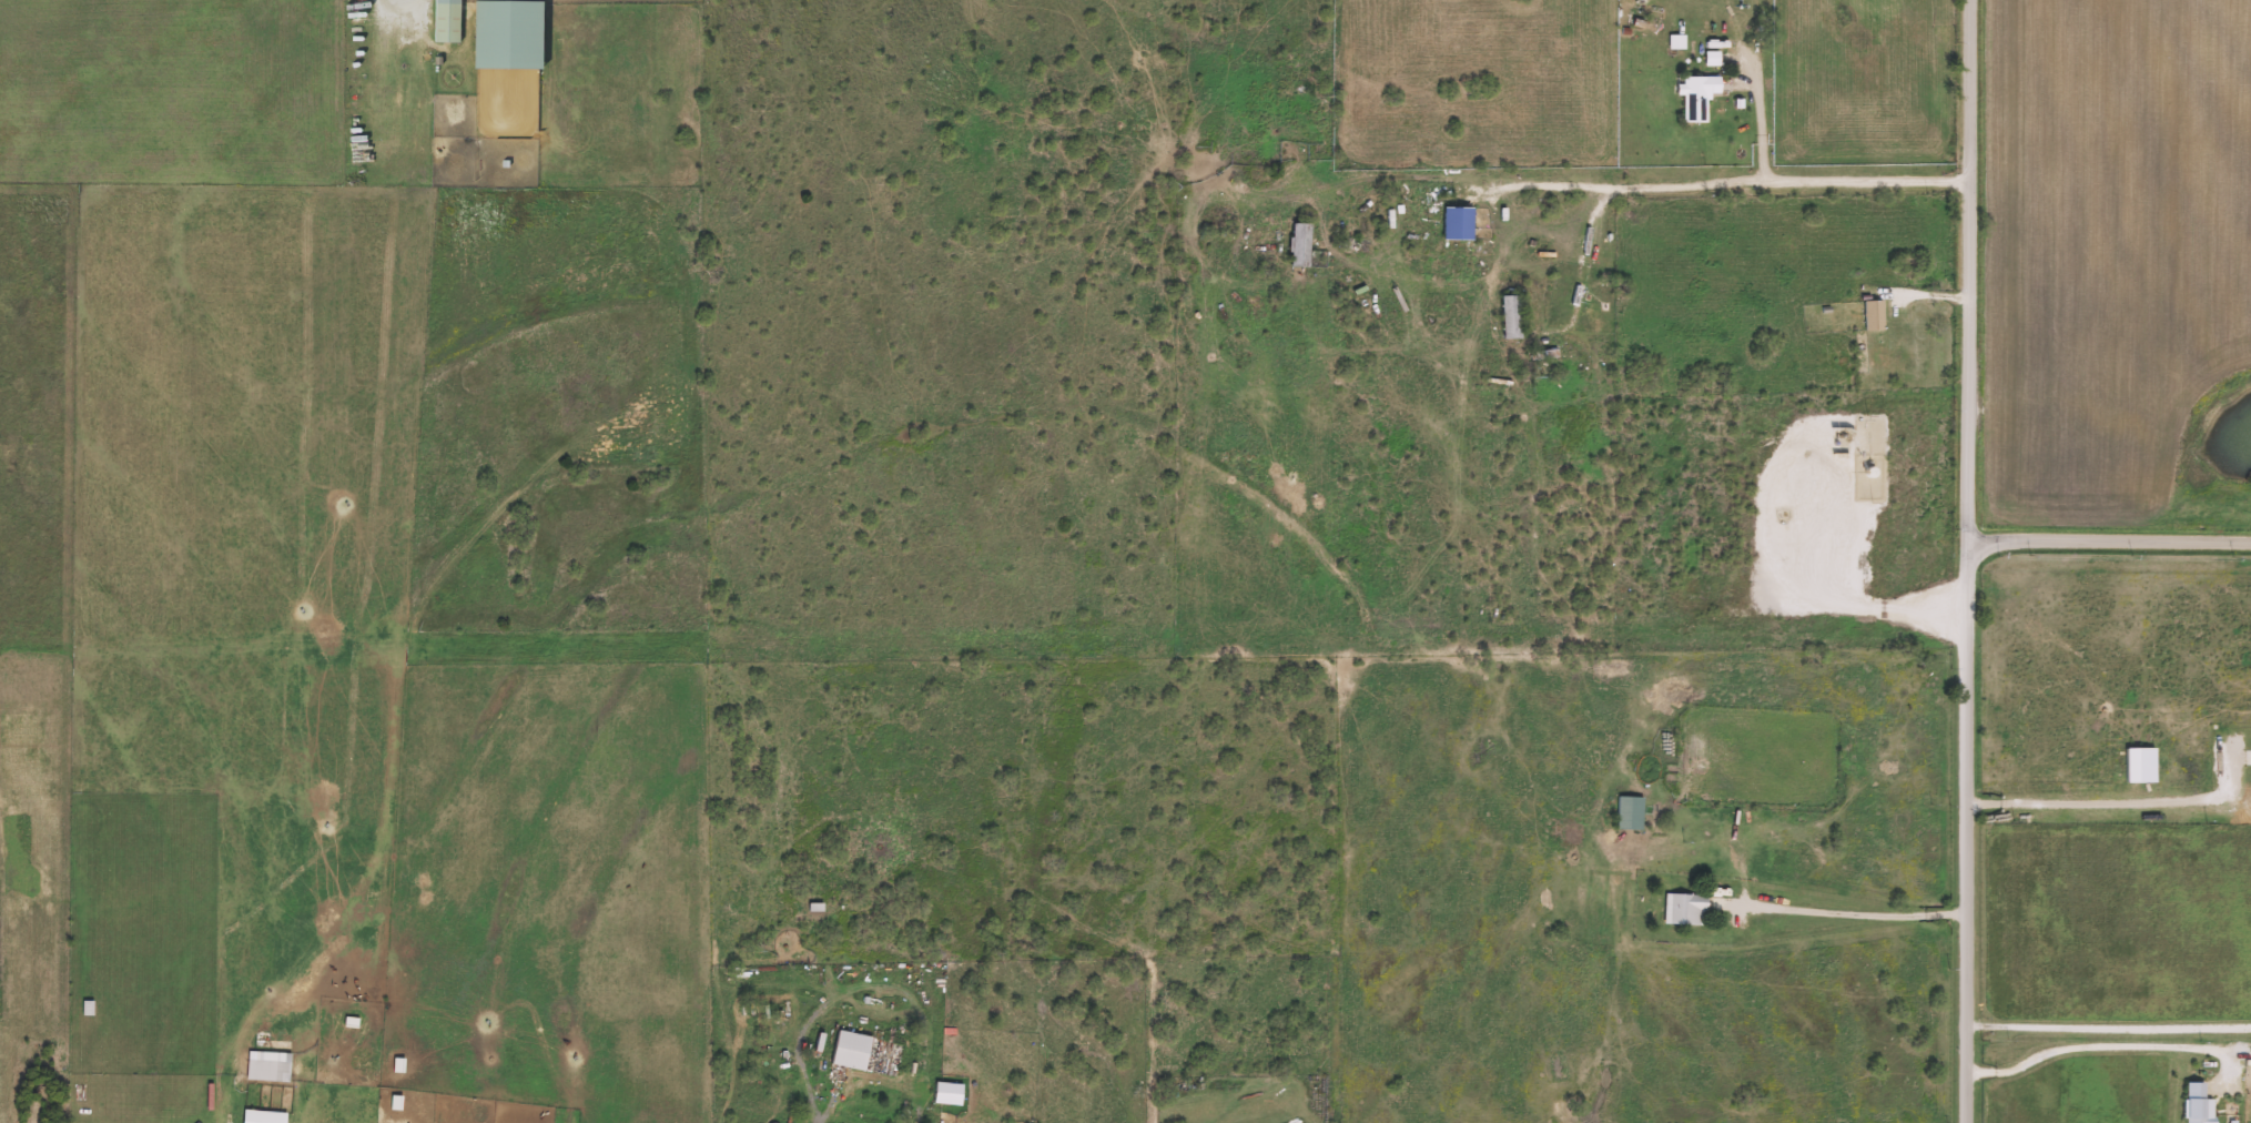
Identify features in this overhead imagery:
road: (406, 0)
building: (447, 20)
building: (509, 32)
building: (1700, 97)
road: (1762, 119)
road: (1635, 185)
building: (1460, 223)
building: (1302, 244)
road: (1969, 272)
building: (1875, 316)
building: (1513, 317)
road: (2109, 540)
road: (2131, 800)
building: (1632, 812)
road: (1973, 833)
road: (359, 884)
building: (1686, 908)
road: (1851, 913)
road: (862, 985)
road: (2112, 1026)
building: (854, 1051)
road: (2115, 1051)
building: (271, 1066)
building: (2201, 1104)
road: (825, 1110)
building: (265, 1116)

